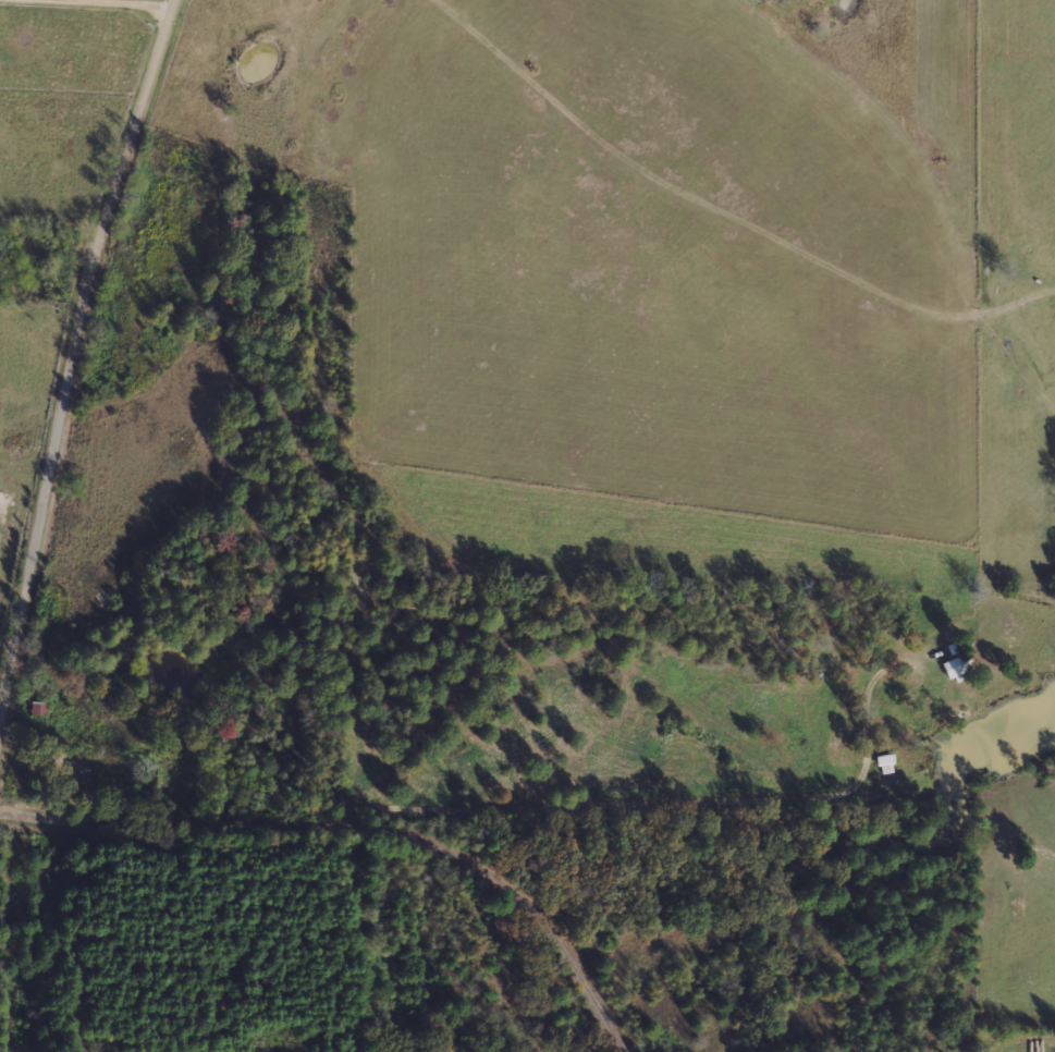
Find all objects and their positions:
road: (122, 2)
road: (76, 392)
building: (956, 666)
building: (886, 763)
road: (373, 822)

